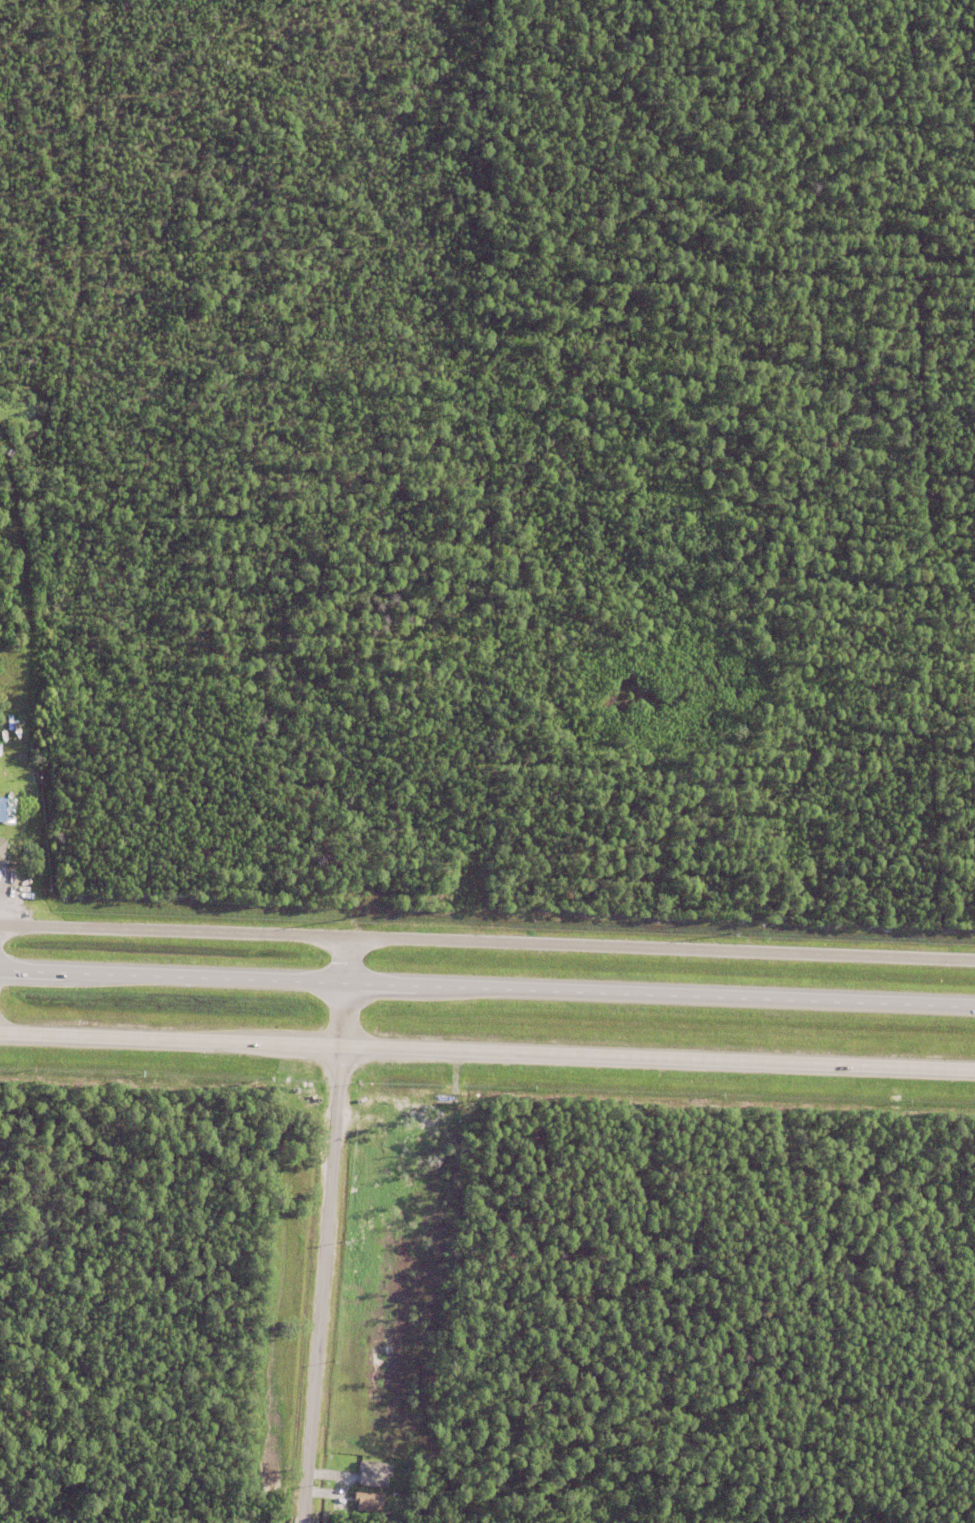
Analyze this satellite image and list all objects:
building: (4, 773)
building: (7, 816)
building: (2, 853)
road: (487, 942)
road: (487, 988)
road: (487, 1054)
road: (326, 1230)
building: (373, 1473)
building: (367, 1501)

